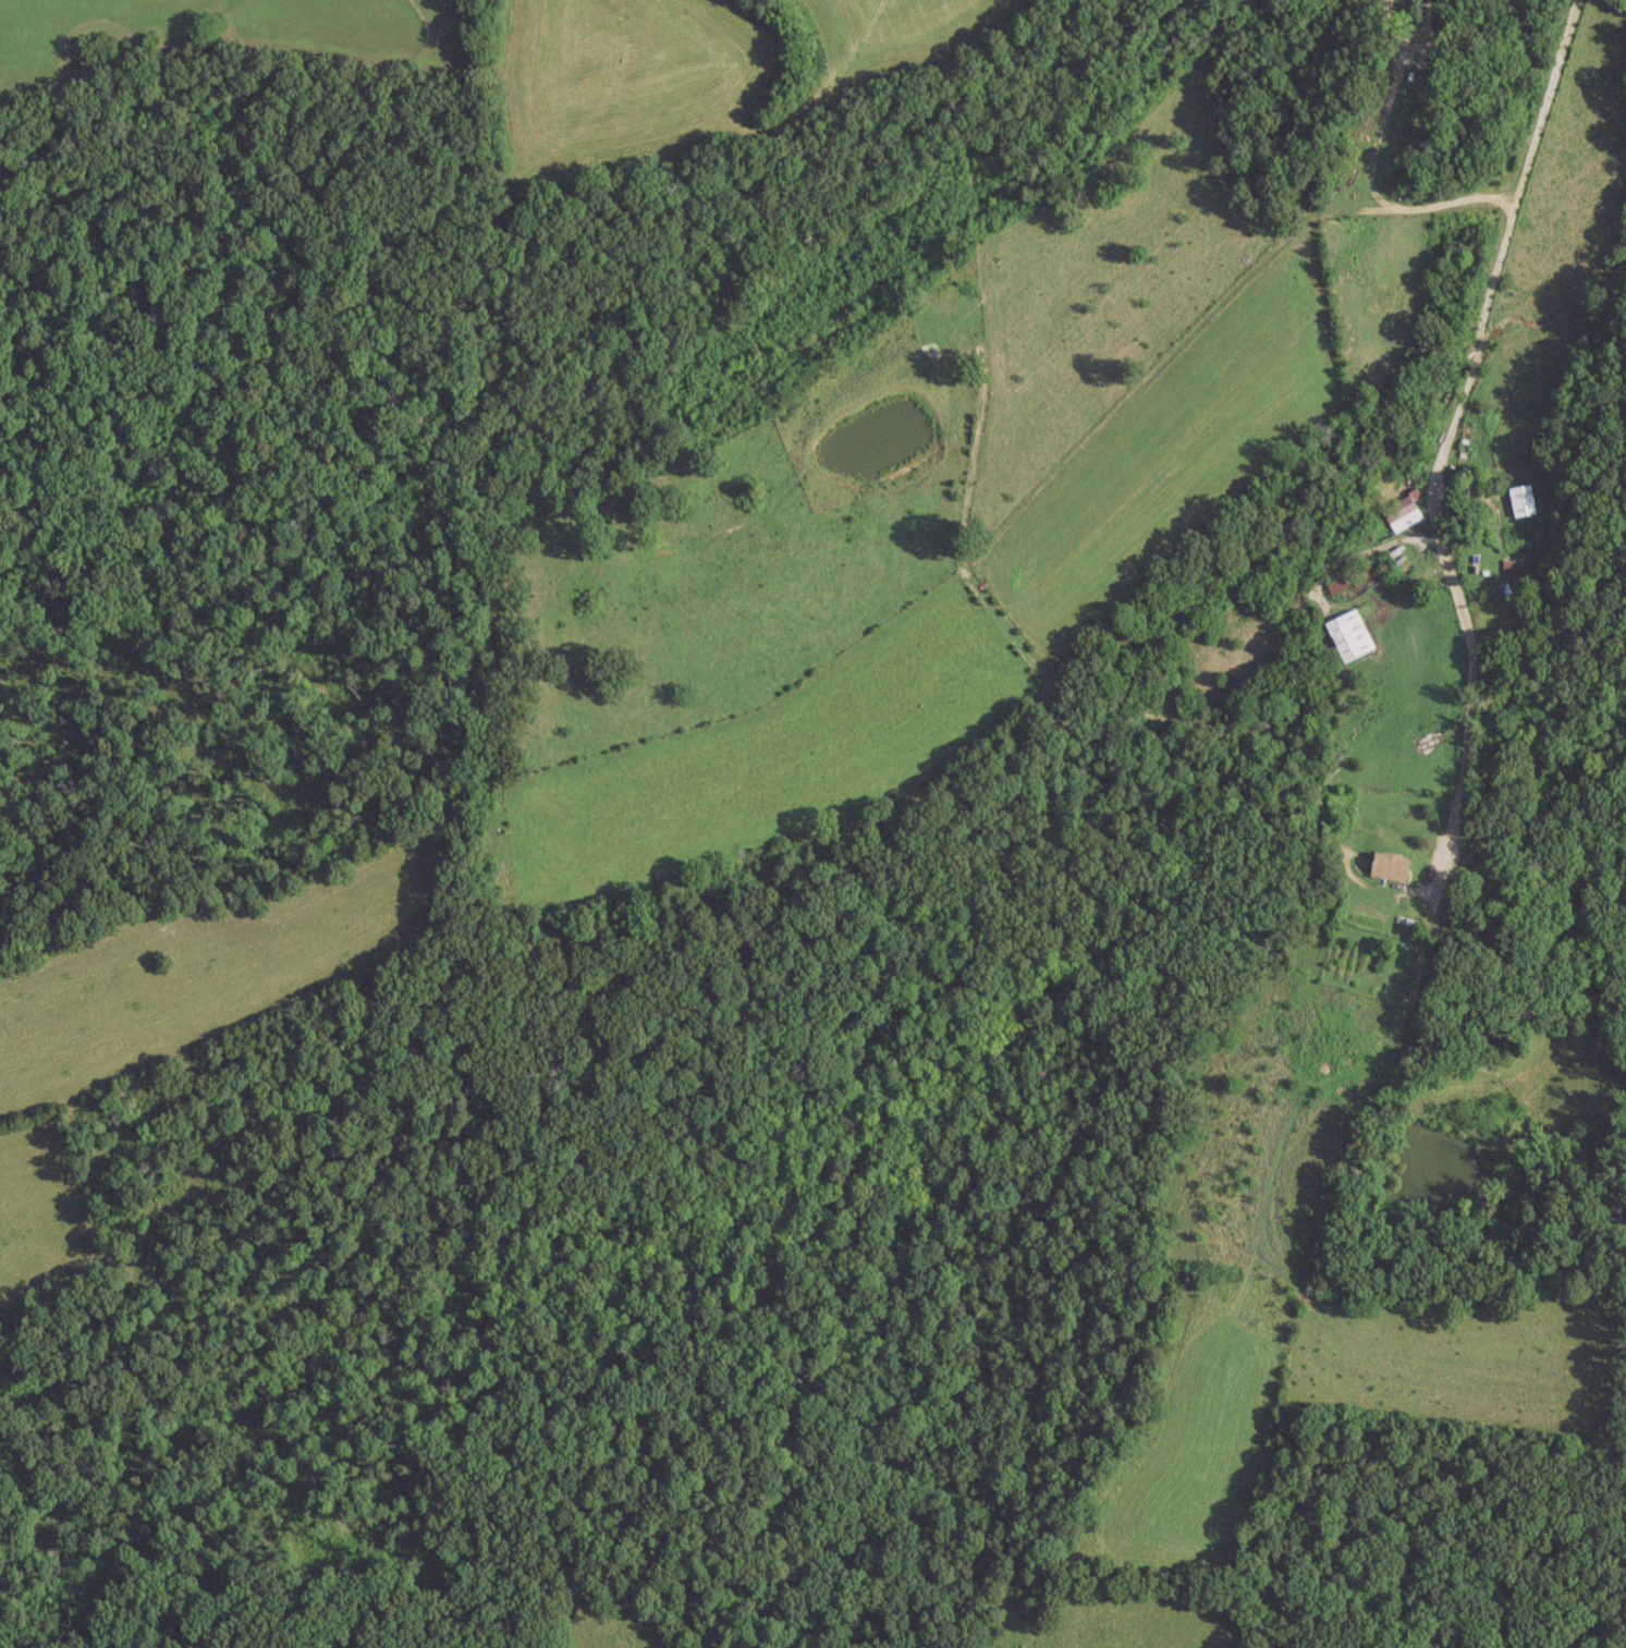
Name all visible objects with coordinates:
road: (1439, 449)
building: (1519, 498)
building: (1399, 511)
building: (1346, 633)
building: (1387, 864)

